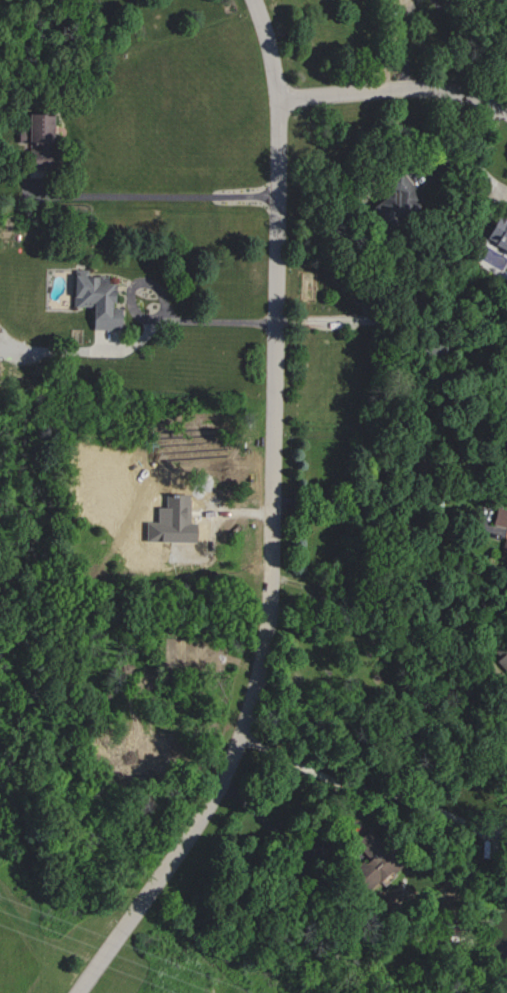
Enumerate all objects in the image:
road: (404, 43)
road: (393, 90)
road: (193, 126)
building: (36, 138)
road: (168, 194)
building: (392, 197)
building: (497, 232)
building: (94, 298)
road: (158, 319)
road: (397, 321)
road: (88, 349)
road: (377, 499)
building: (499, 516)
road: (273, 520)
building: (503, 548)
road: (371, 624)
road: (372, 787)
road: (265, 819)
building: (369, 861)

